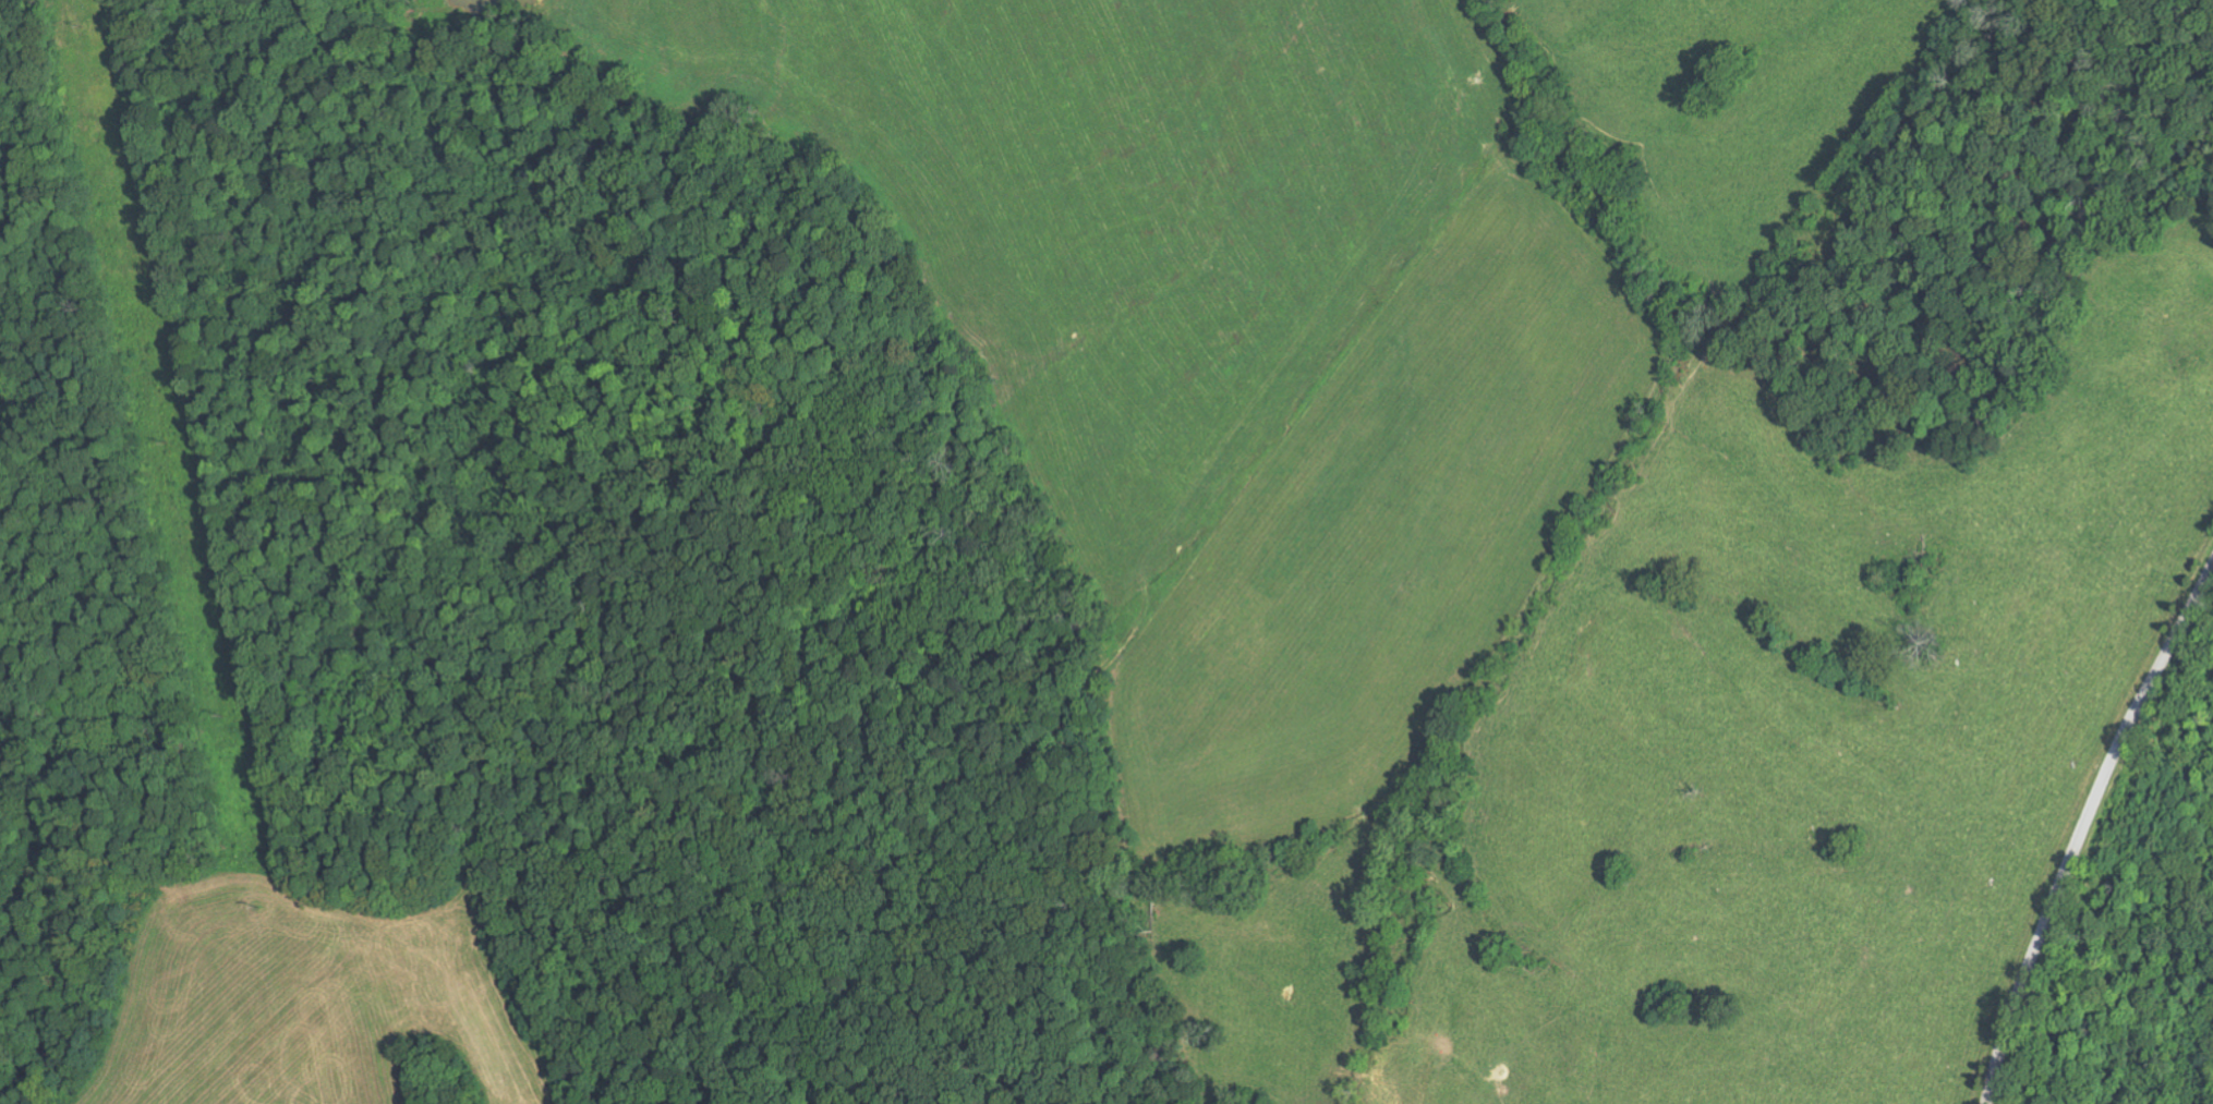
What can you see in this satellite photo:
road: (2084, 830)

